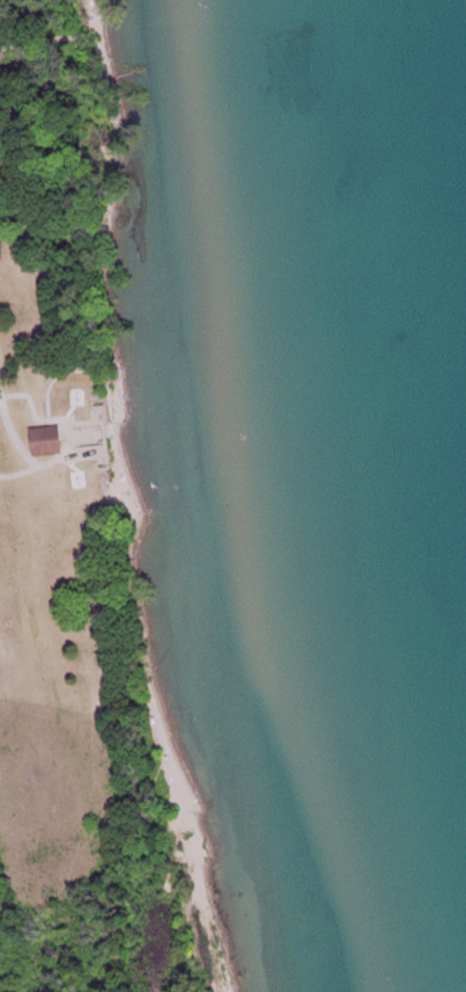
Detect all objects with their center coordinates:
road: (71, 372)
road: (0, 393)
road: (67, 433)
road: (14, 435)
building: (46, 441)
park: (118, 539)

